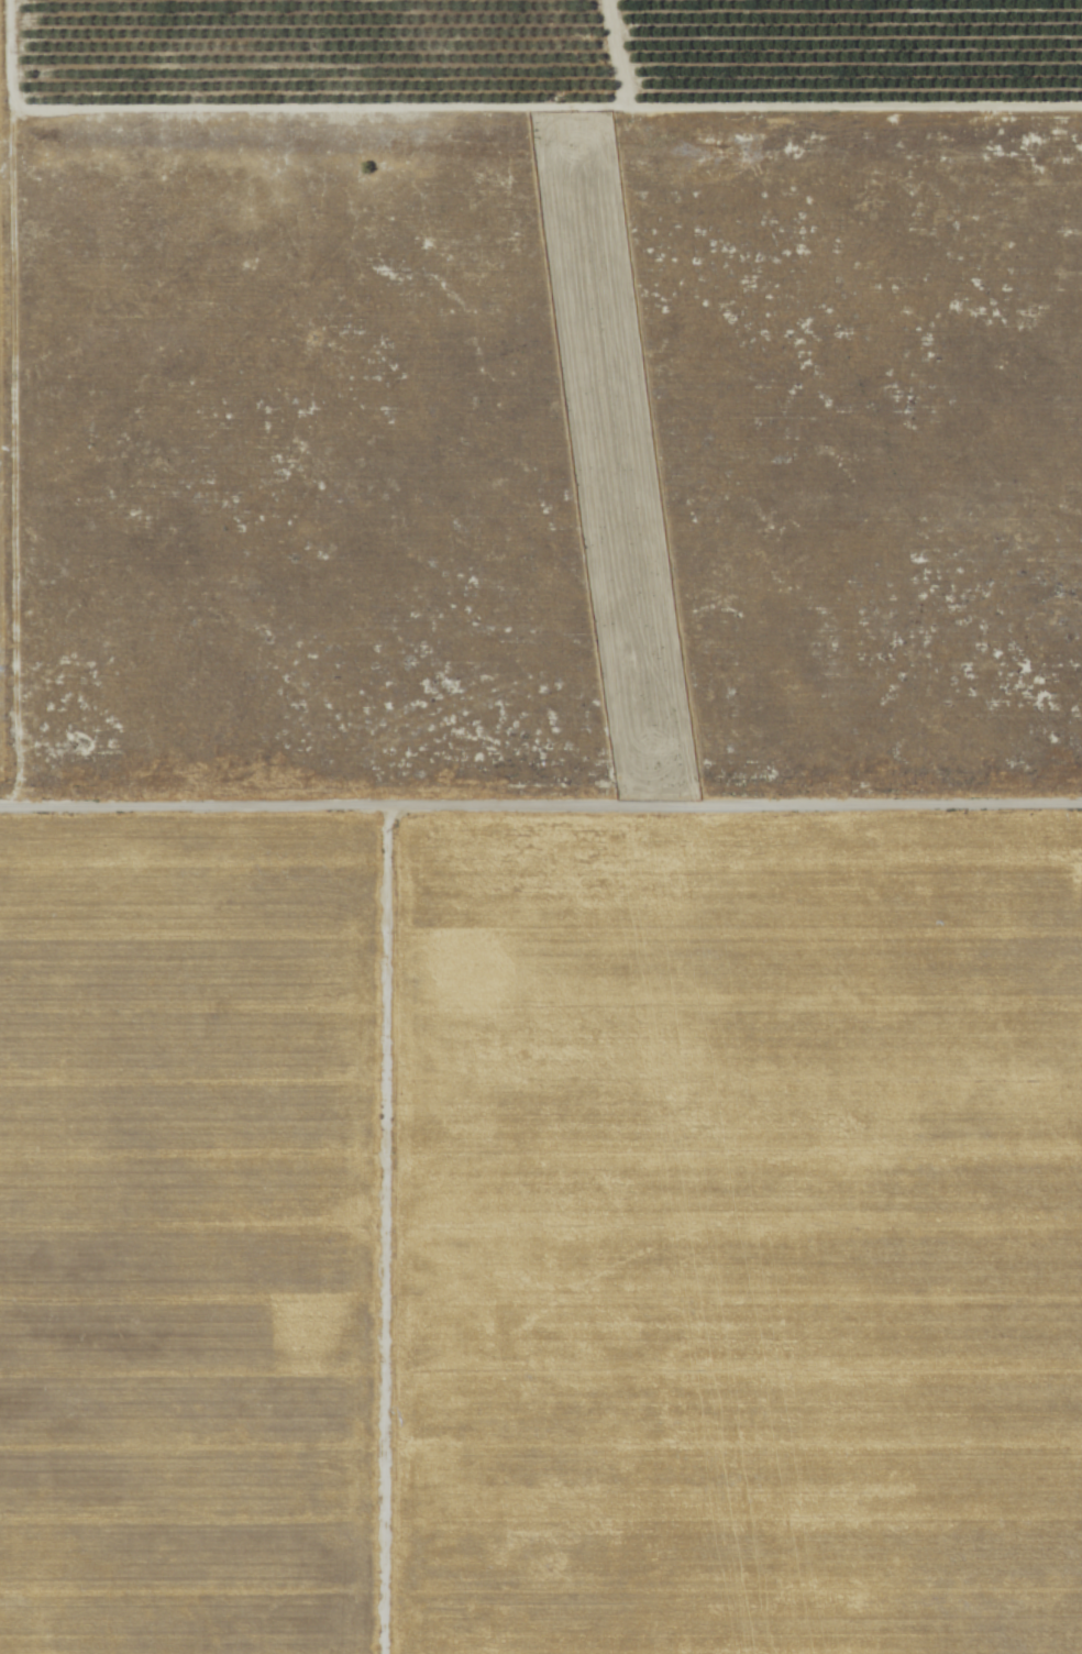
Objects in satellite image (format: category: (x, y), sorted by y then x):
crop: (541, 58)
road: (540, 811)
railway: (649, 828)
railway: (659, 828)
crop: (920, 1209)
road: (382, 1233)
crop: (188, 1234)
crop: (533, 1271)

